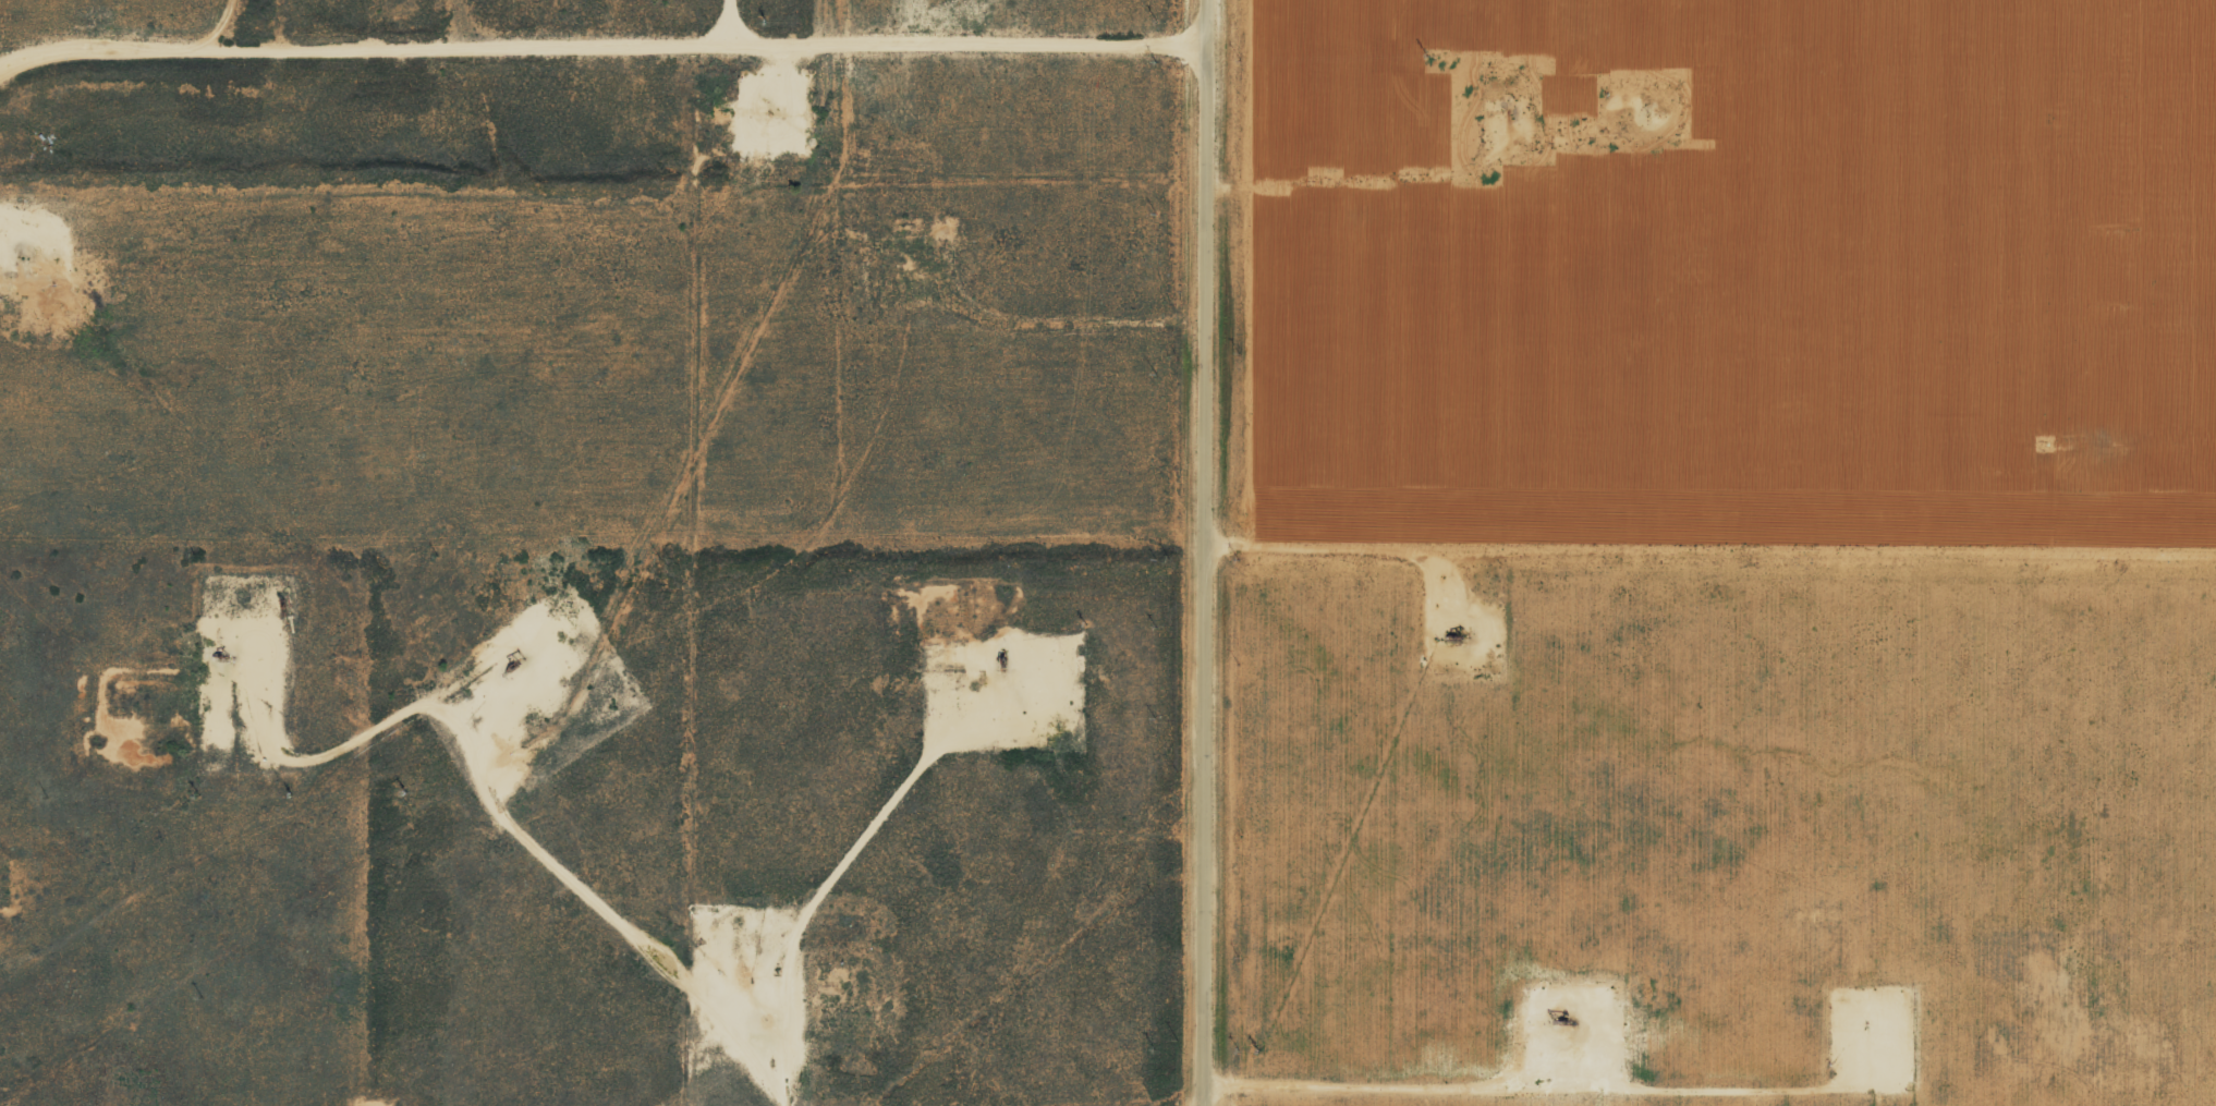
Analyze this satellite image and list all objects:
road: (602, 26)
road: (1207, 552)
petroleum well: (218, 655)
petroleum well: (514, 660)
petroleum well: (999, 664)
road: (1622, 967)
petroleum well: (1564, 1019)
road: (1176, 1101)

